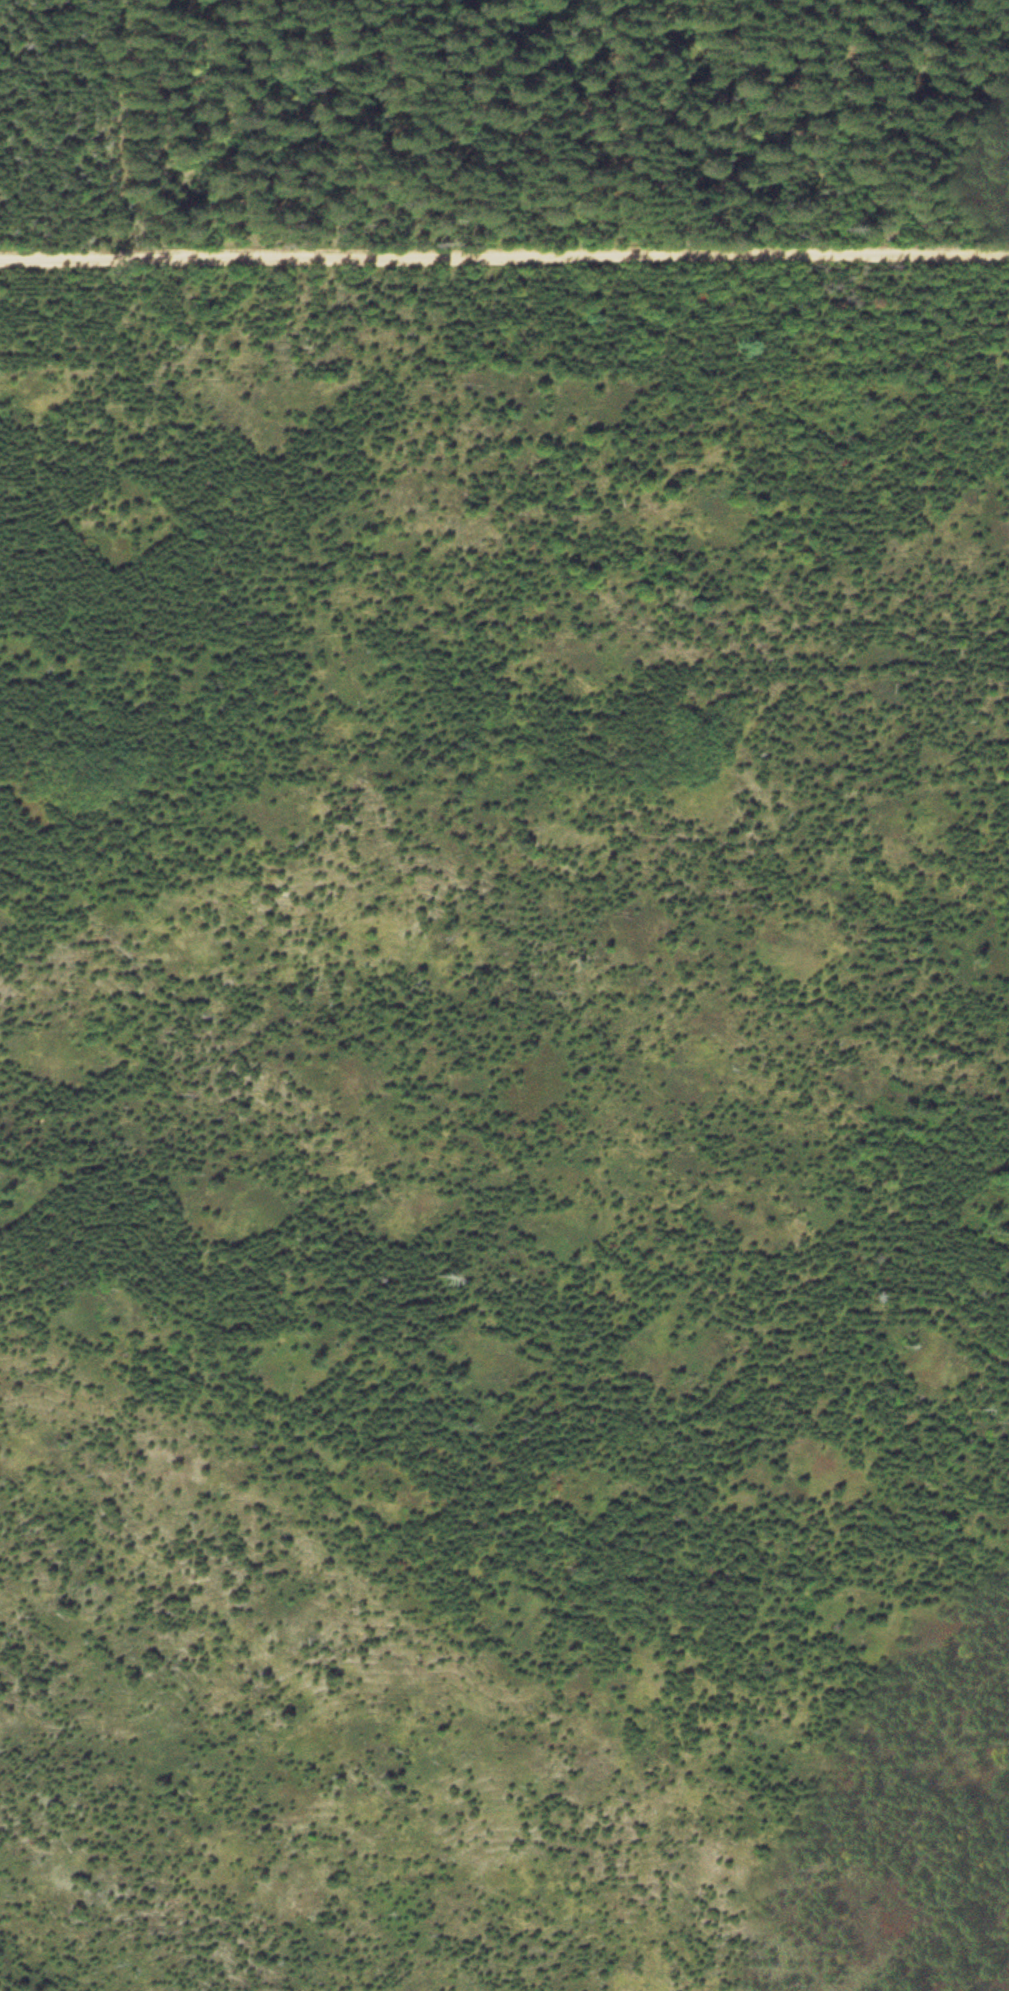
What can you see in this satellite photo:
road: (504, 260)

